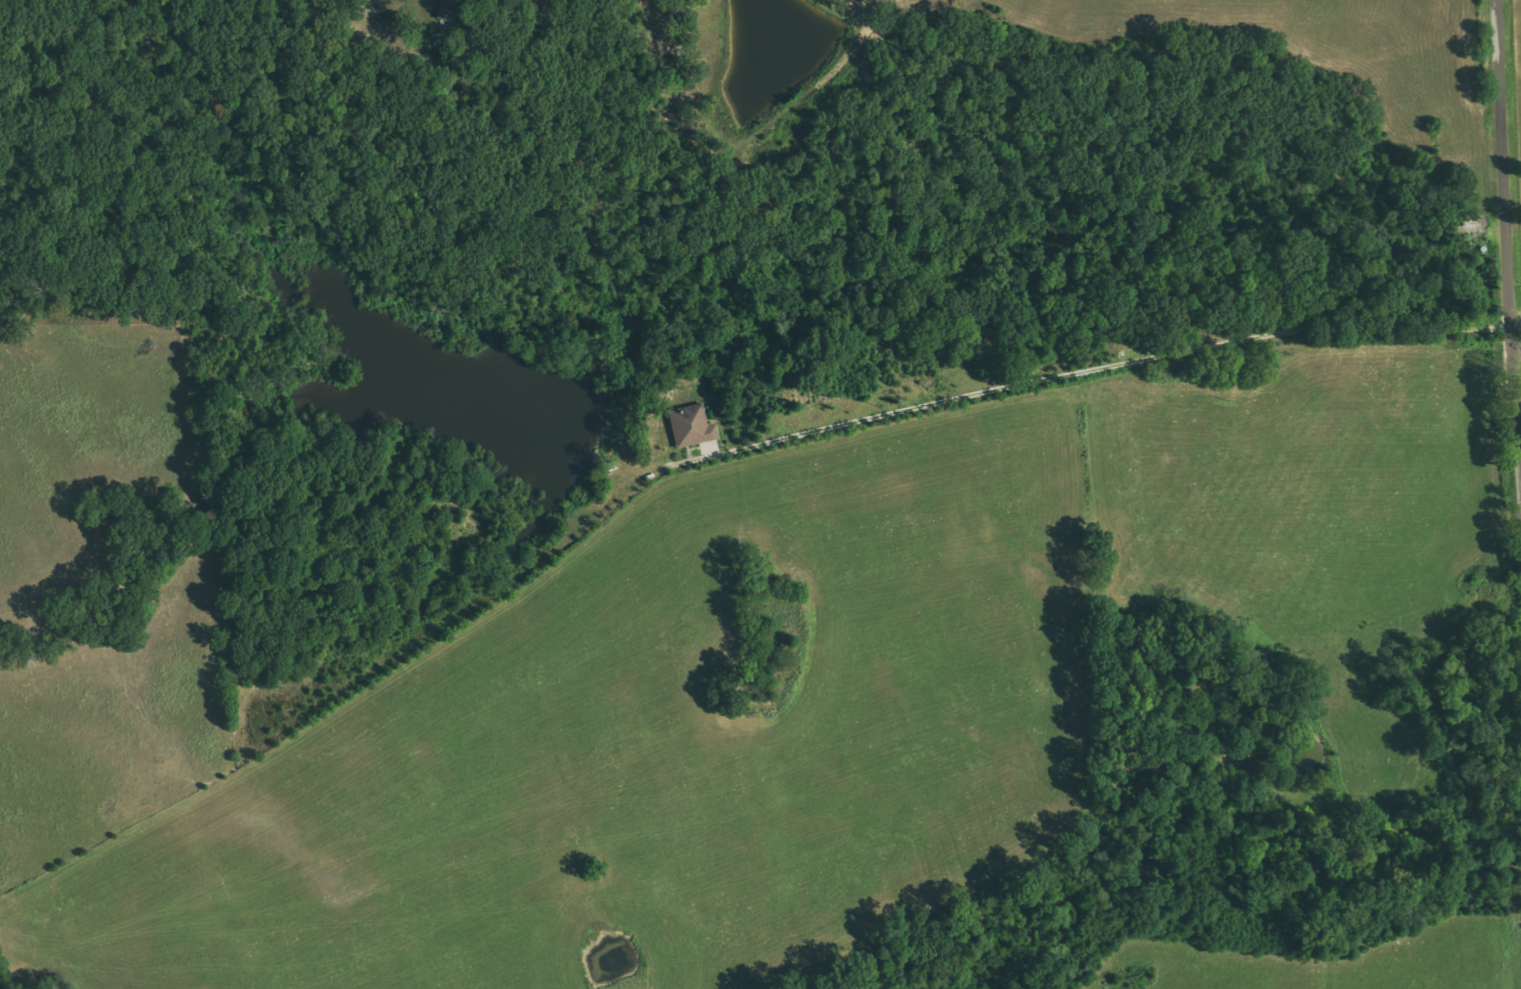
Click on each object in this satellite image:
building: (447, 10)
road: (1513, 176)
road: (1520, 322)
road: (1244, 342)
road: (846, 416)
building: (692, 426)

